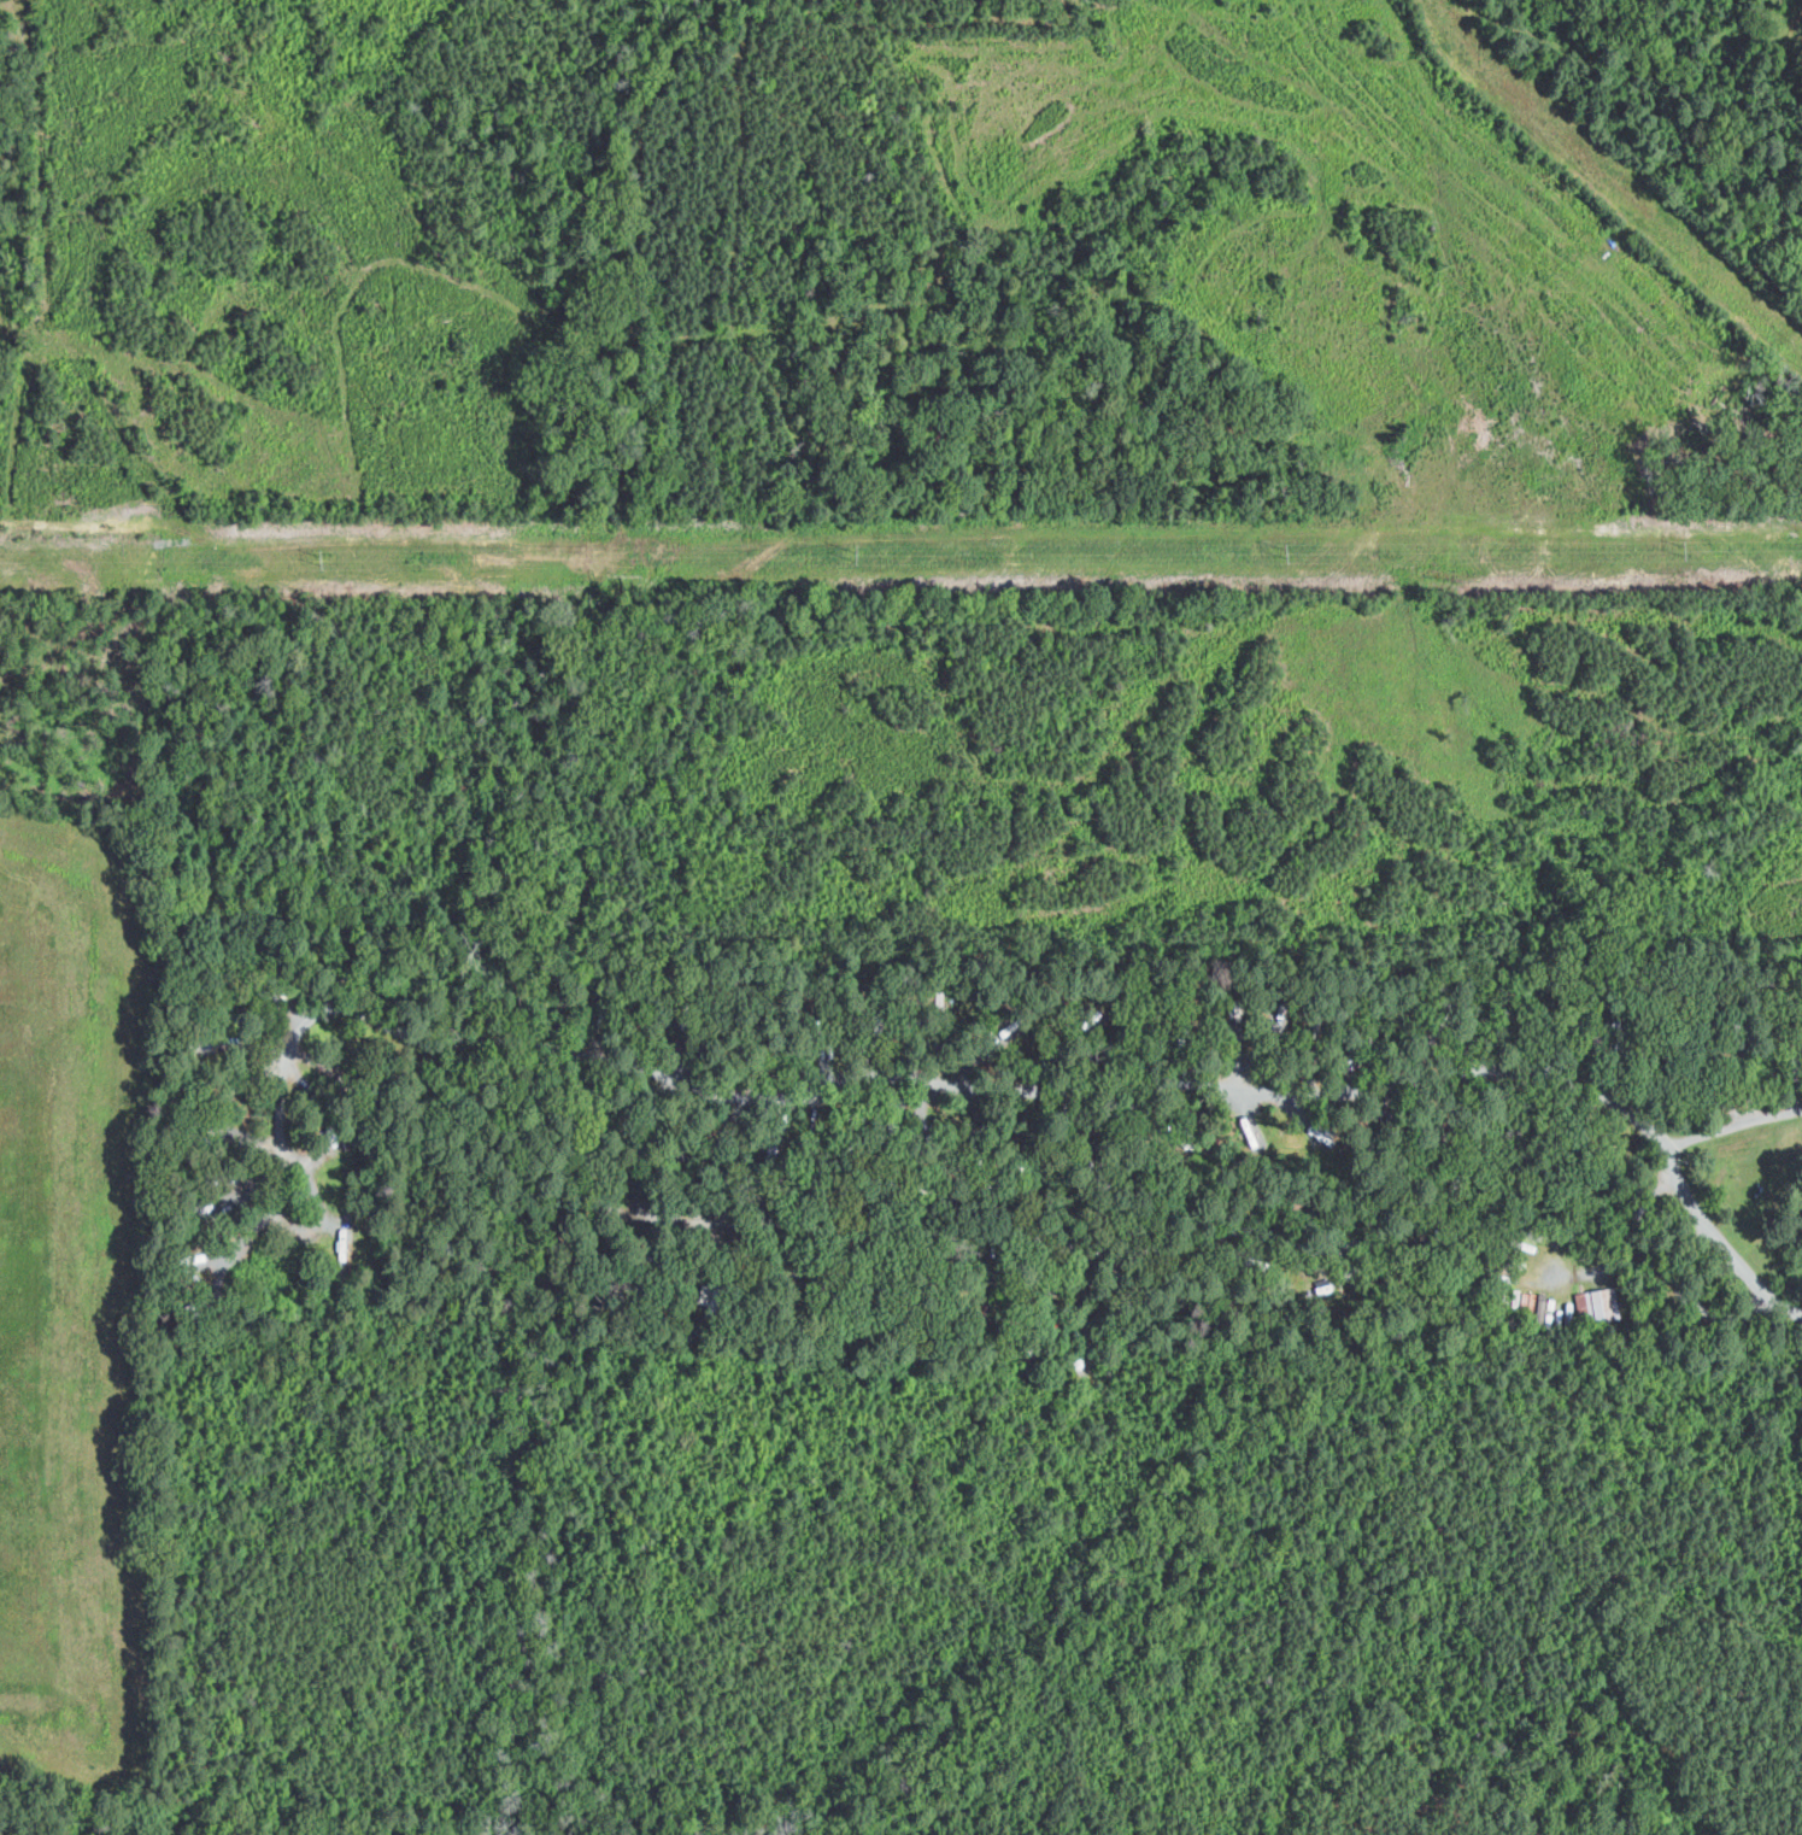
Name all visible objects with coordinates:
building: (1239, 1010)
building: (1284, 1018)
building: (1320, 1024)
building: (1184, 1033)
road: (821, 1098)
road: (1732, 1130)
building: (887, 1131)
building: (856, 1136)
building: (733, 1139)
building: (1195, 1142)
building: (686, 1143)
building: (774, 1150)
road: (1674, 1169)
building: (927, 1190)
road: (893, 1232)
road: (1650, 1256)
road: (1381, 1257)
building: (925, 1273)
building: (641, 1280)
building: (790, 1290)
building: (1686, 1297)
building: (1601, 1305)
building: (1712, 1312)
building: (969, 1314)
building: (844, 1319)

